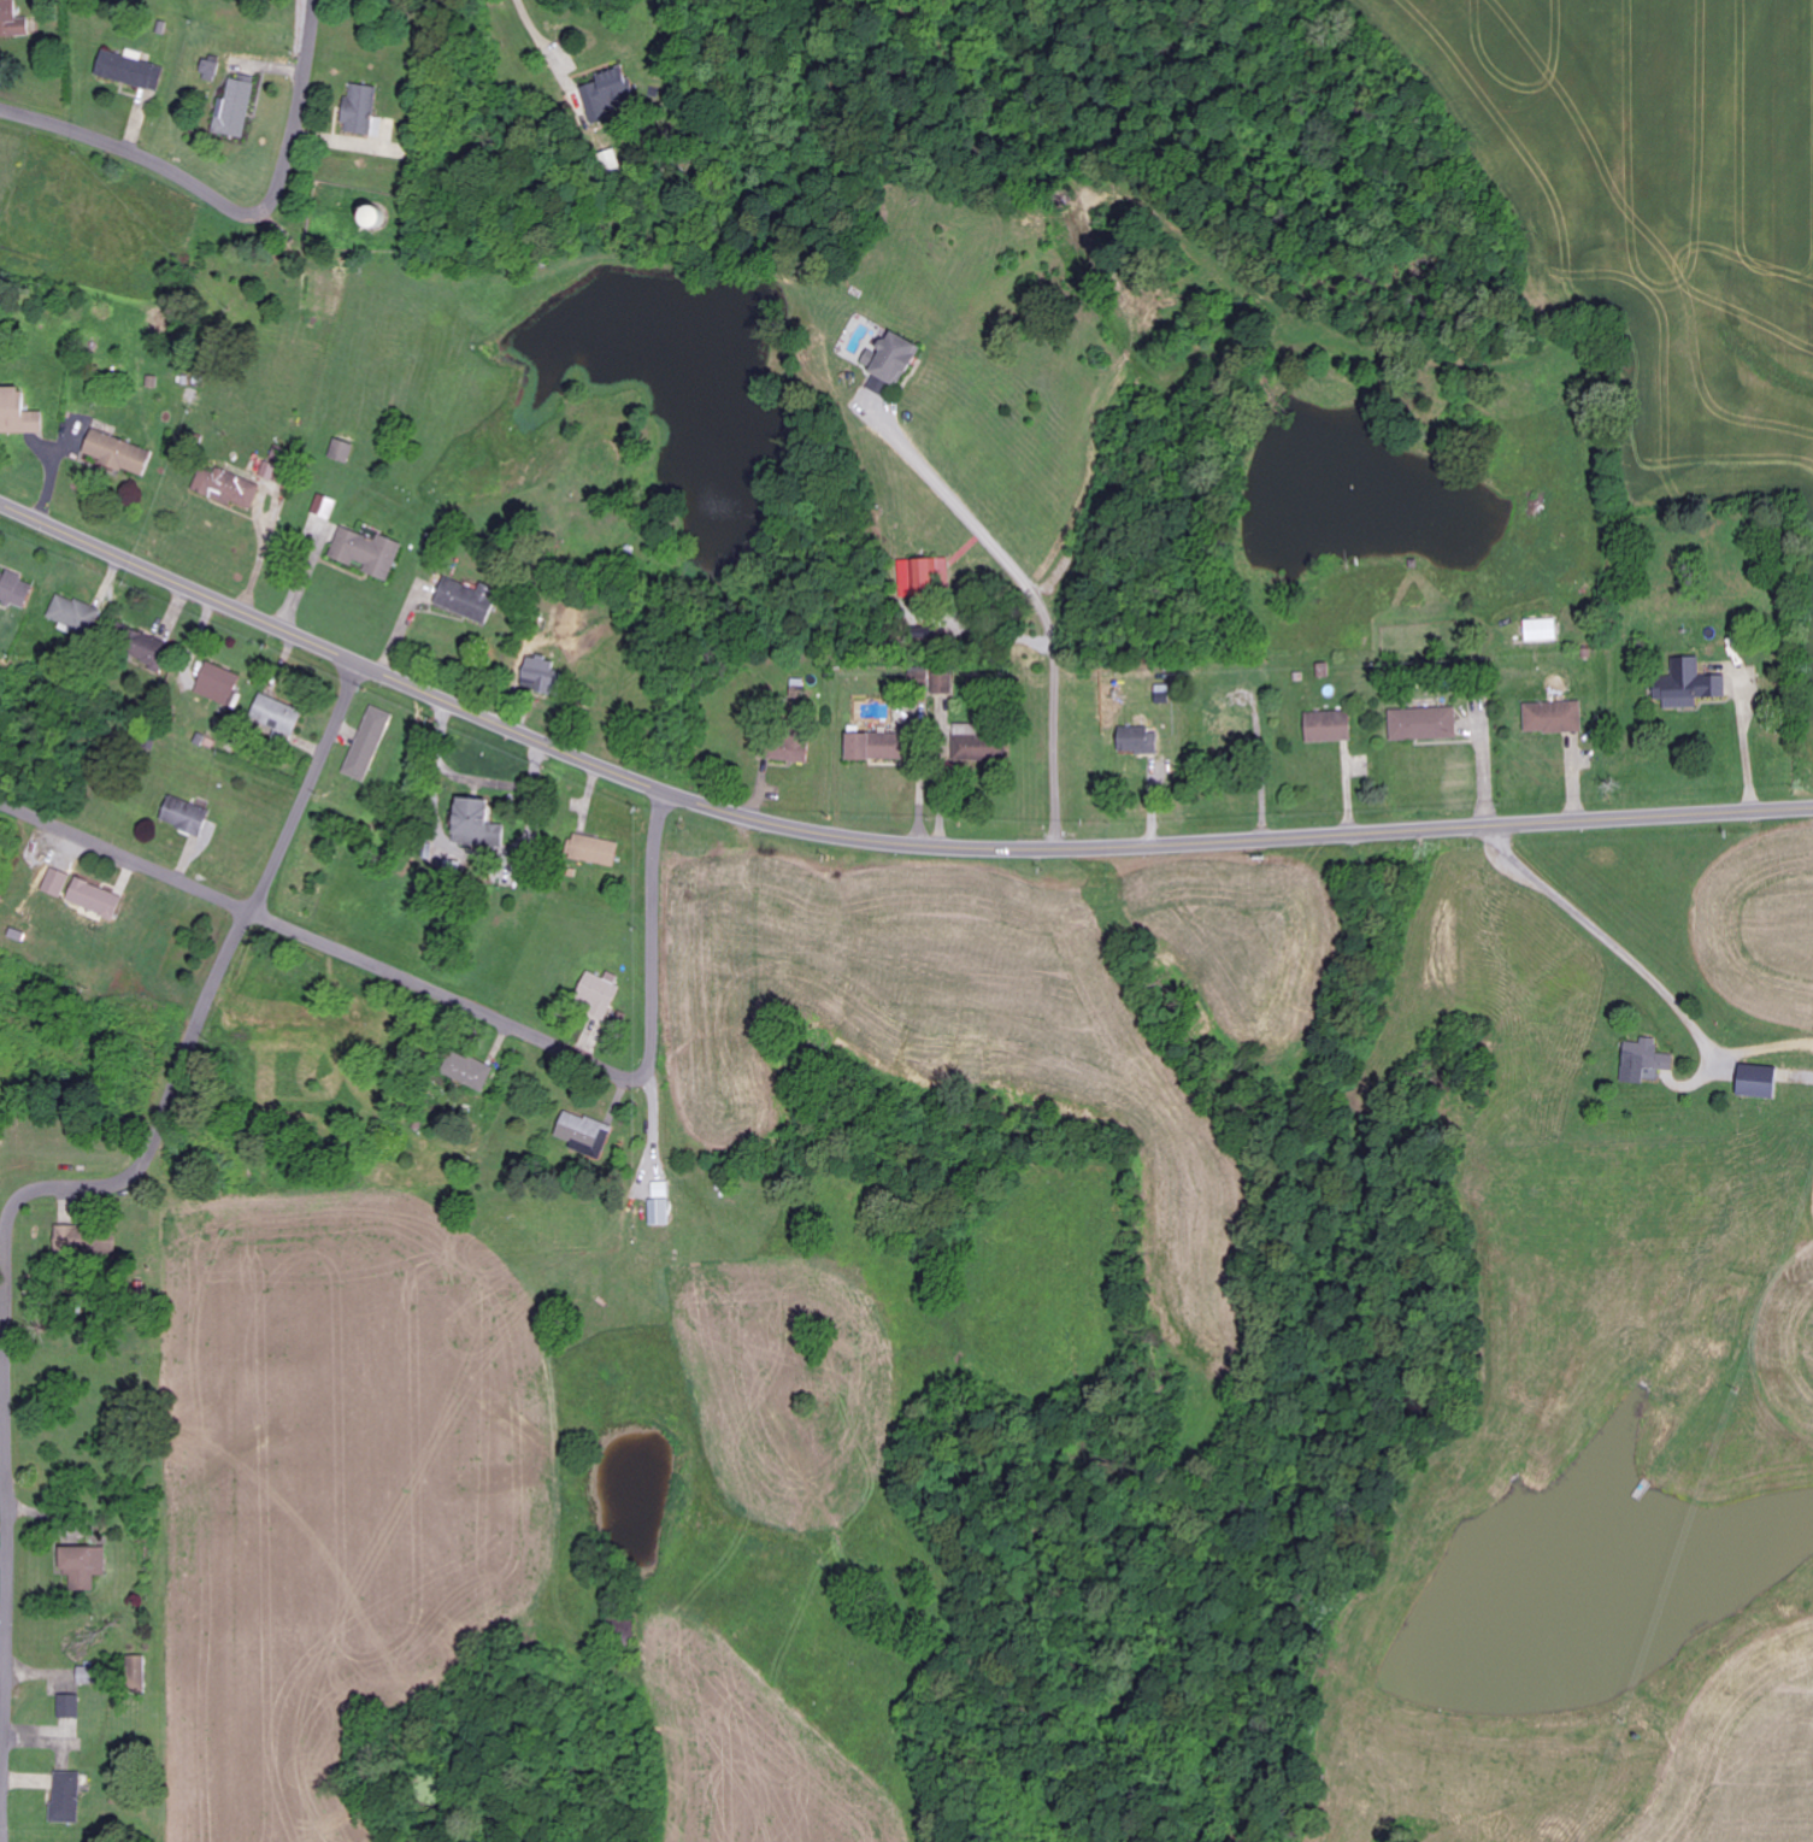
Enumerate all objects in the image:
building: (12, 20)
building: (130, 69)
building: (211, 70)
building: (612, 94)
building: (236, 110)
building: (365, 110)
road: (231, 206)
building: (891, 363)
building: (193, 396)
building: (17, 413)
building: (345, 451)
building: (118, 453)
building: (270, 471)
building: (228, 488)
building: (325, 506)
building: (369, 553)
building: (923, 575)
building: (16, 590)
building: (451, 592)
building: (75, 614)
building: (1542, 630)
building: (151, 652)
building: (541, 675)
building: (218, 684)
building: (935, 684)
building: (1689, 685)
building: (1554, 718)
building: (1424, 724)
building: (1329, 726)
building: (1140, 741)
building: (369, 743)
building: (878, 747)
building: (790, 749)
building: (981, 749)
building: (186, 816)
building: (476, 824)
road: (873, 834)
building: (594, 851)
building: (58, 883)
building: (92, 896)
road: (307, 931)
road: (1601, 931)
road: (655, 944)
building: (602, 995)
building: (1644, 1060)
building: (469, 1071)
building: (1758, 1082)
building: (585, 1135)
road: (34, 1188)
building: (660, 1213)
building: (72, 1238)
building: (82, 1566)
building: (136, 1673)
building: (67, 1799)

